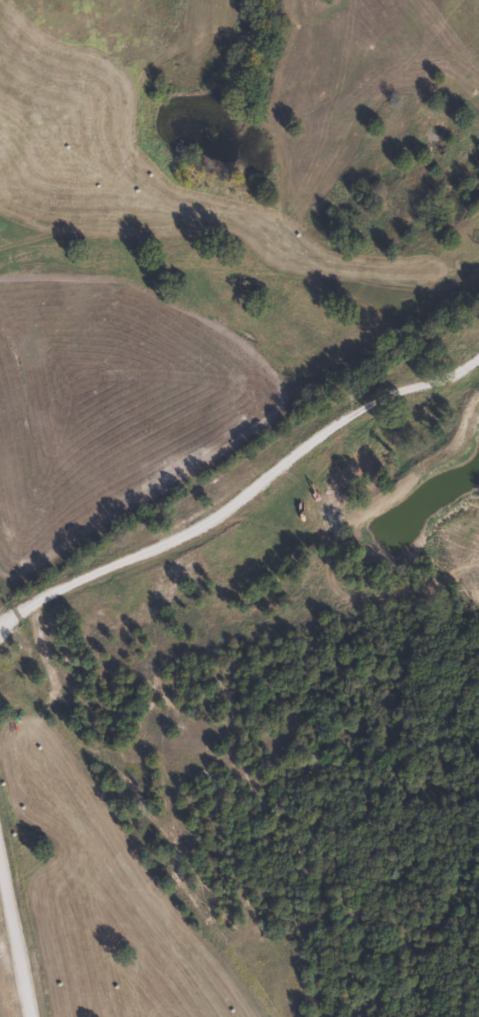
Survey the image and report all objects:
road: (268, 547)
road: (5, 992)

